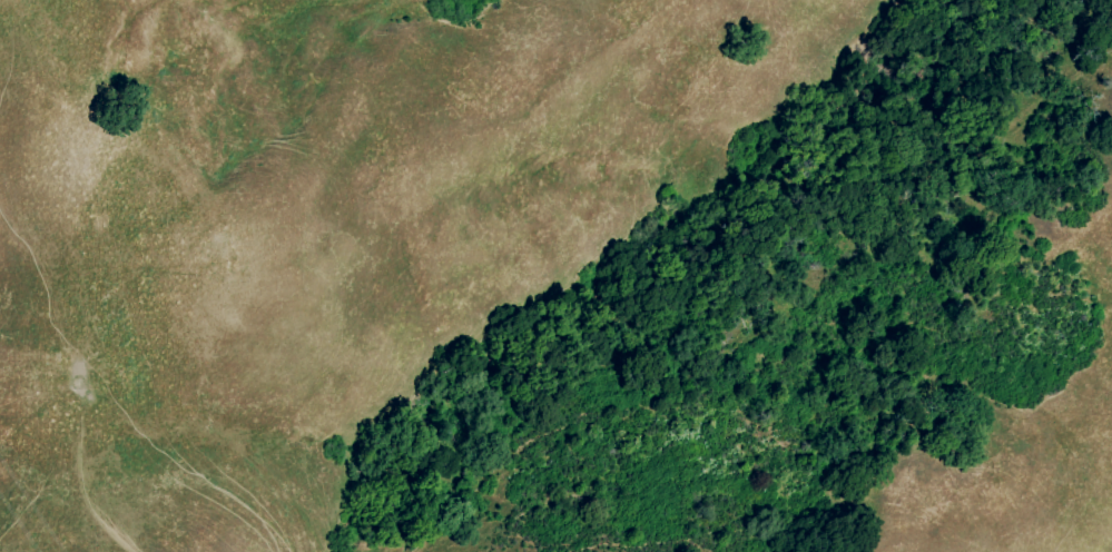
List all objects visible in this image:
road: (101, 277)

